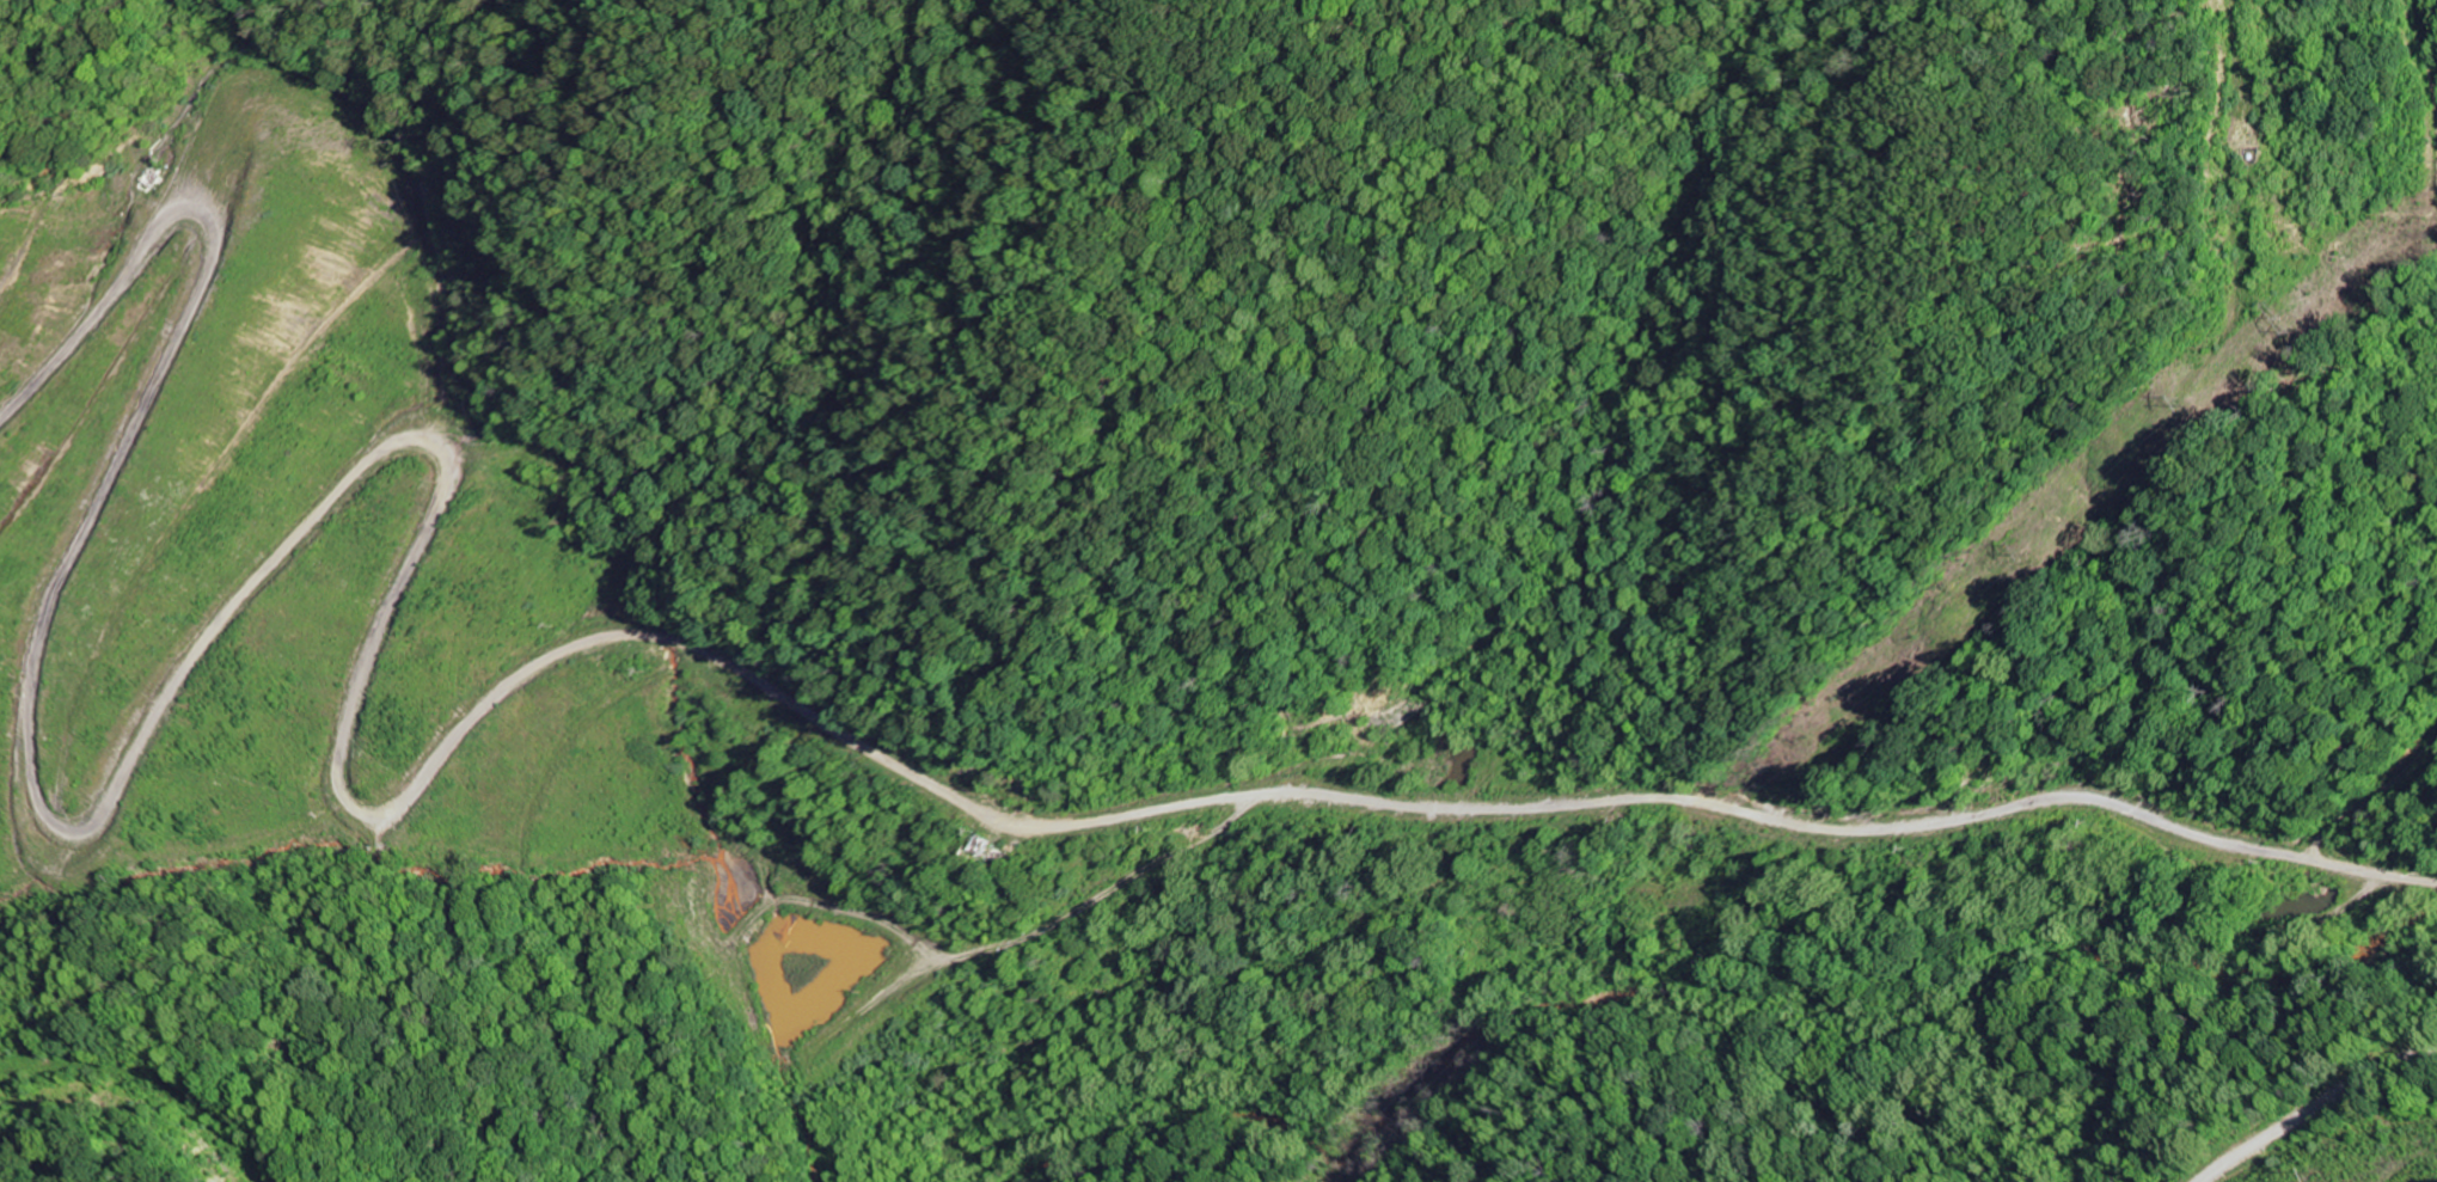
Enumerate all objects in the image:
road: (2316, 1113)
power tower: (2307, 1177)

